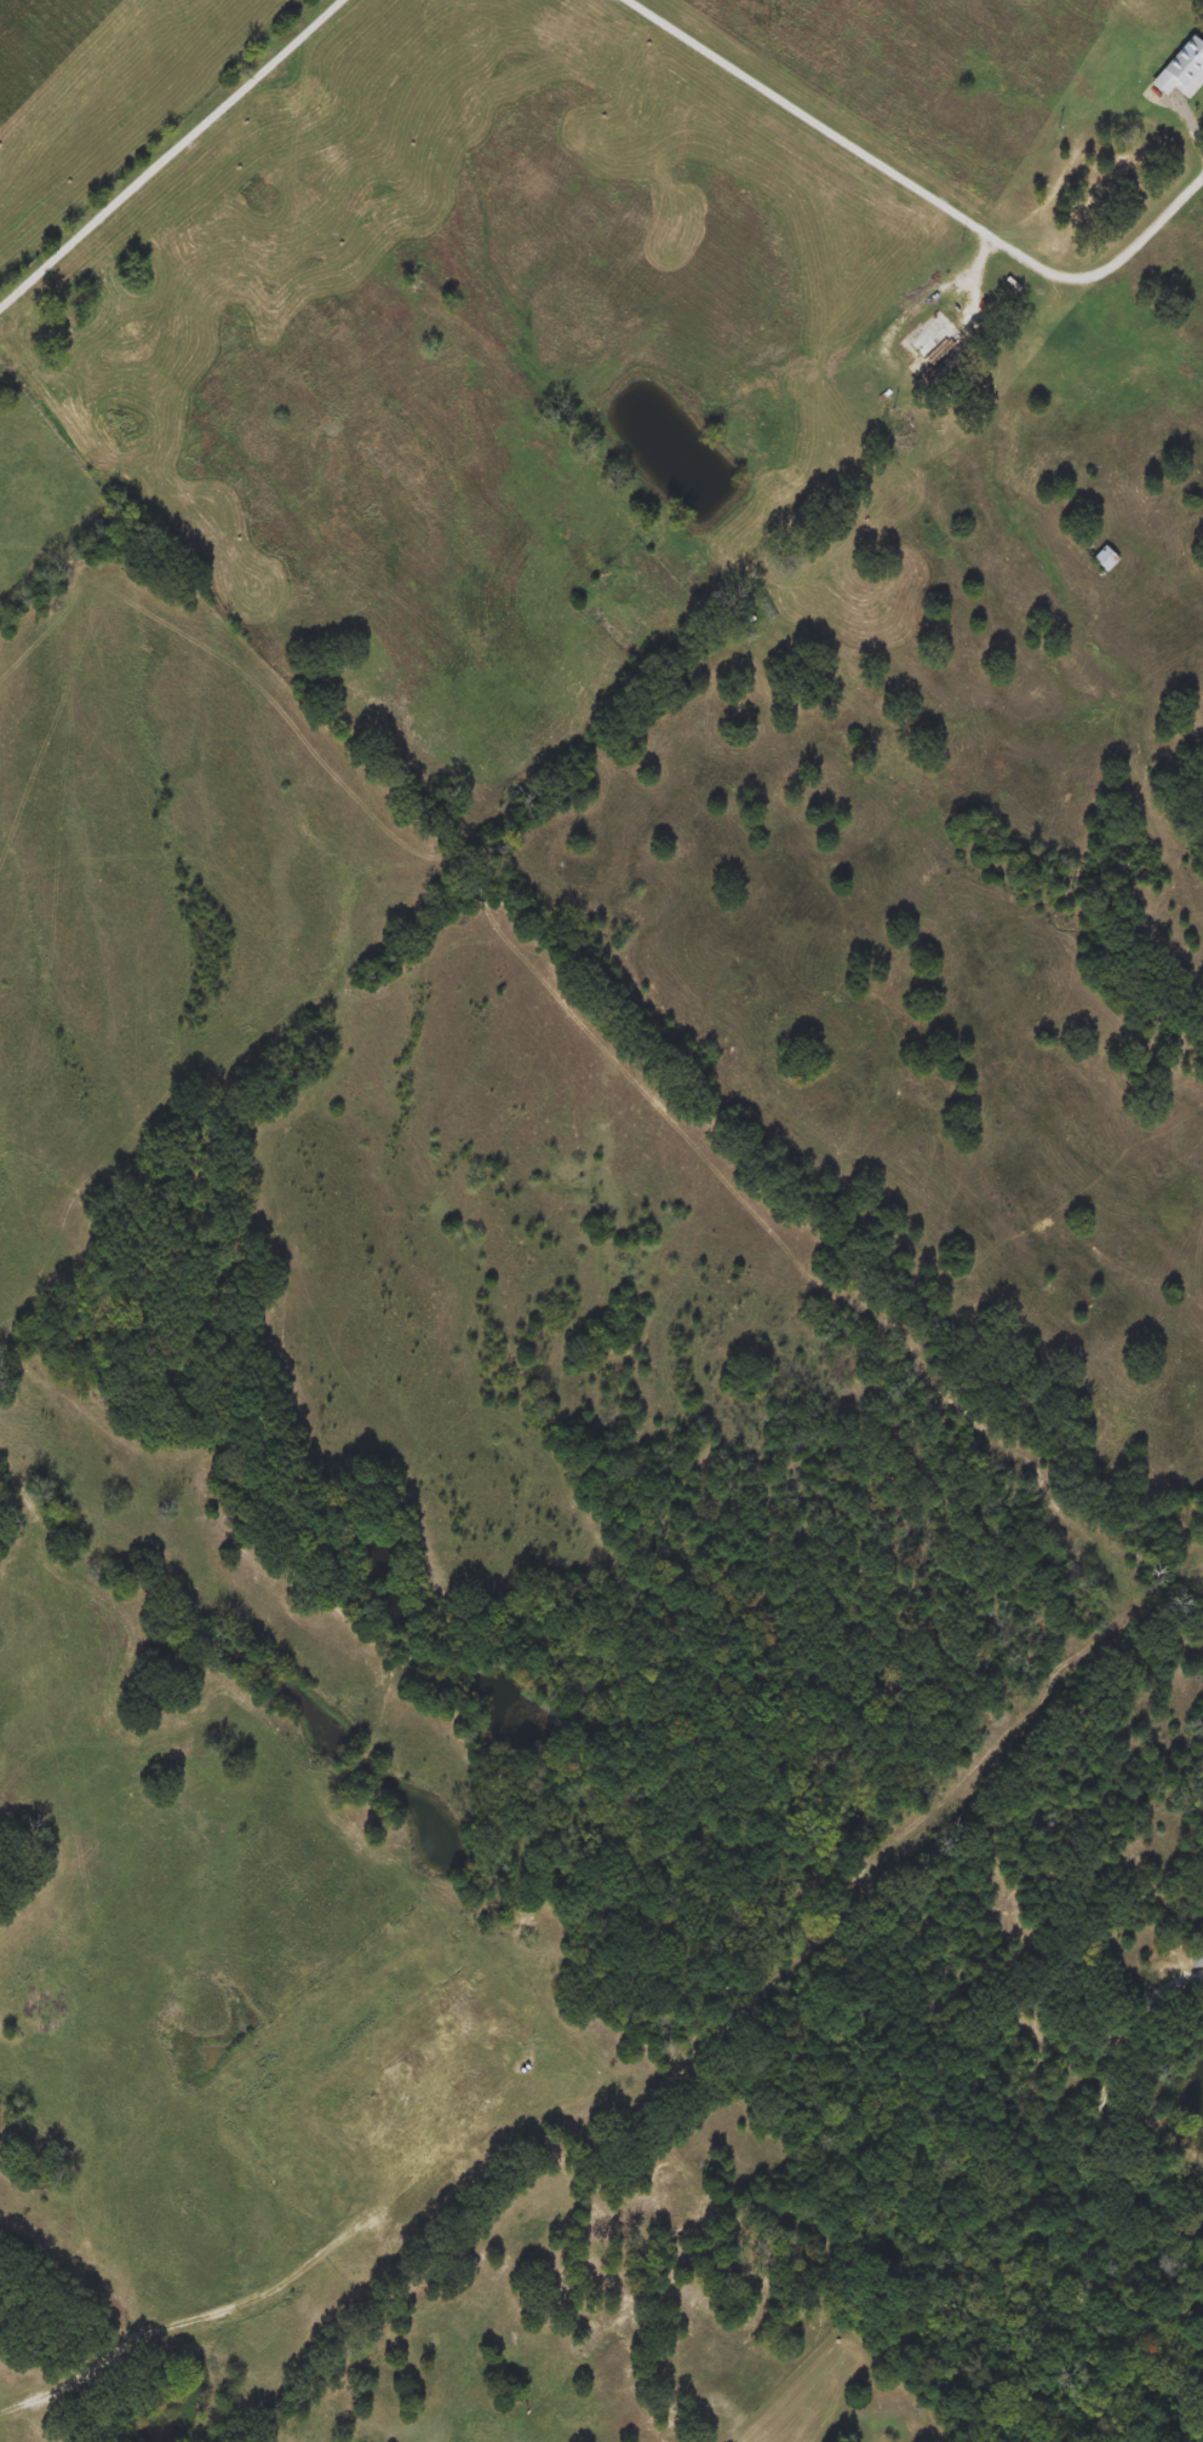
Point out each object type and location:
building: (1182, 70)
road: (850, 142)
road: (171, 151)
road: (1141, 235)
road: (922, 300)
building: (936, 340)
building: (1107, 560)
building: (1196, 1955)
road: (1085, 2195)

